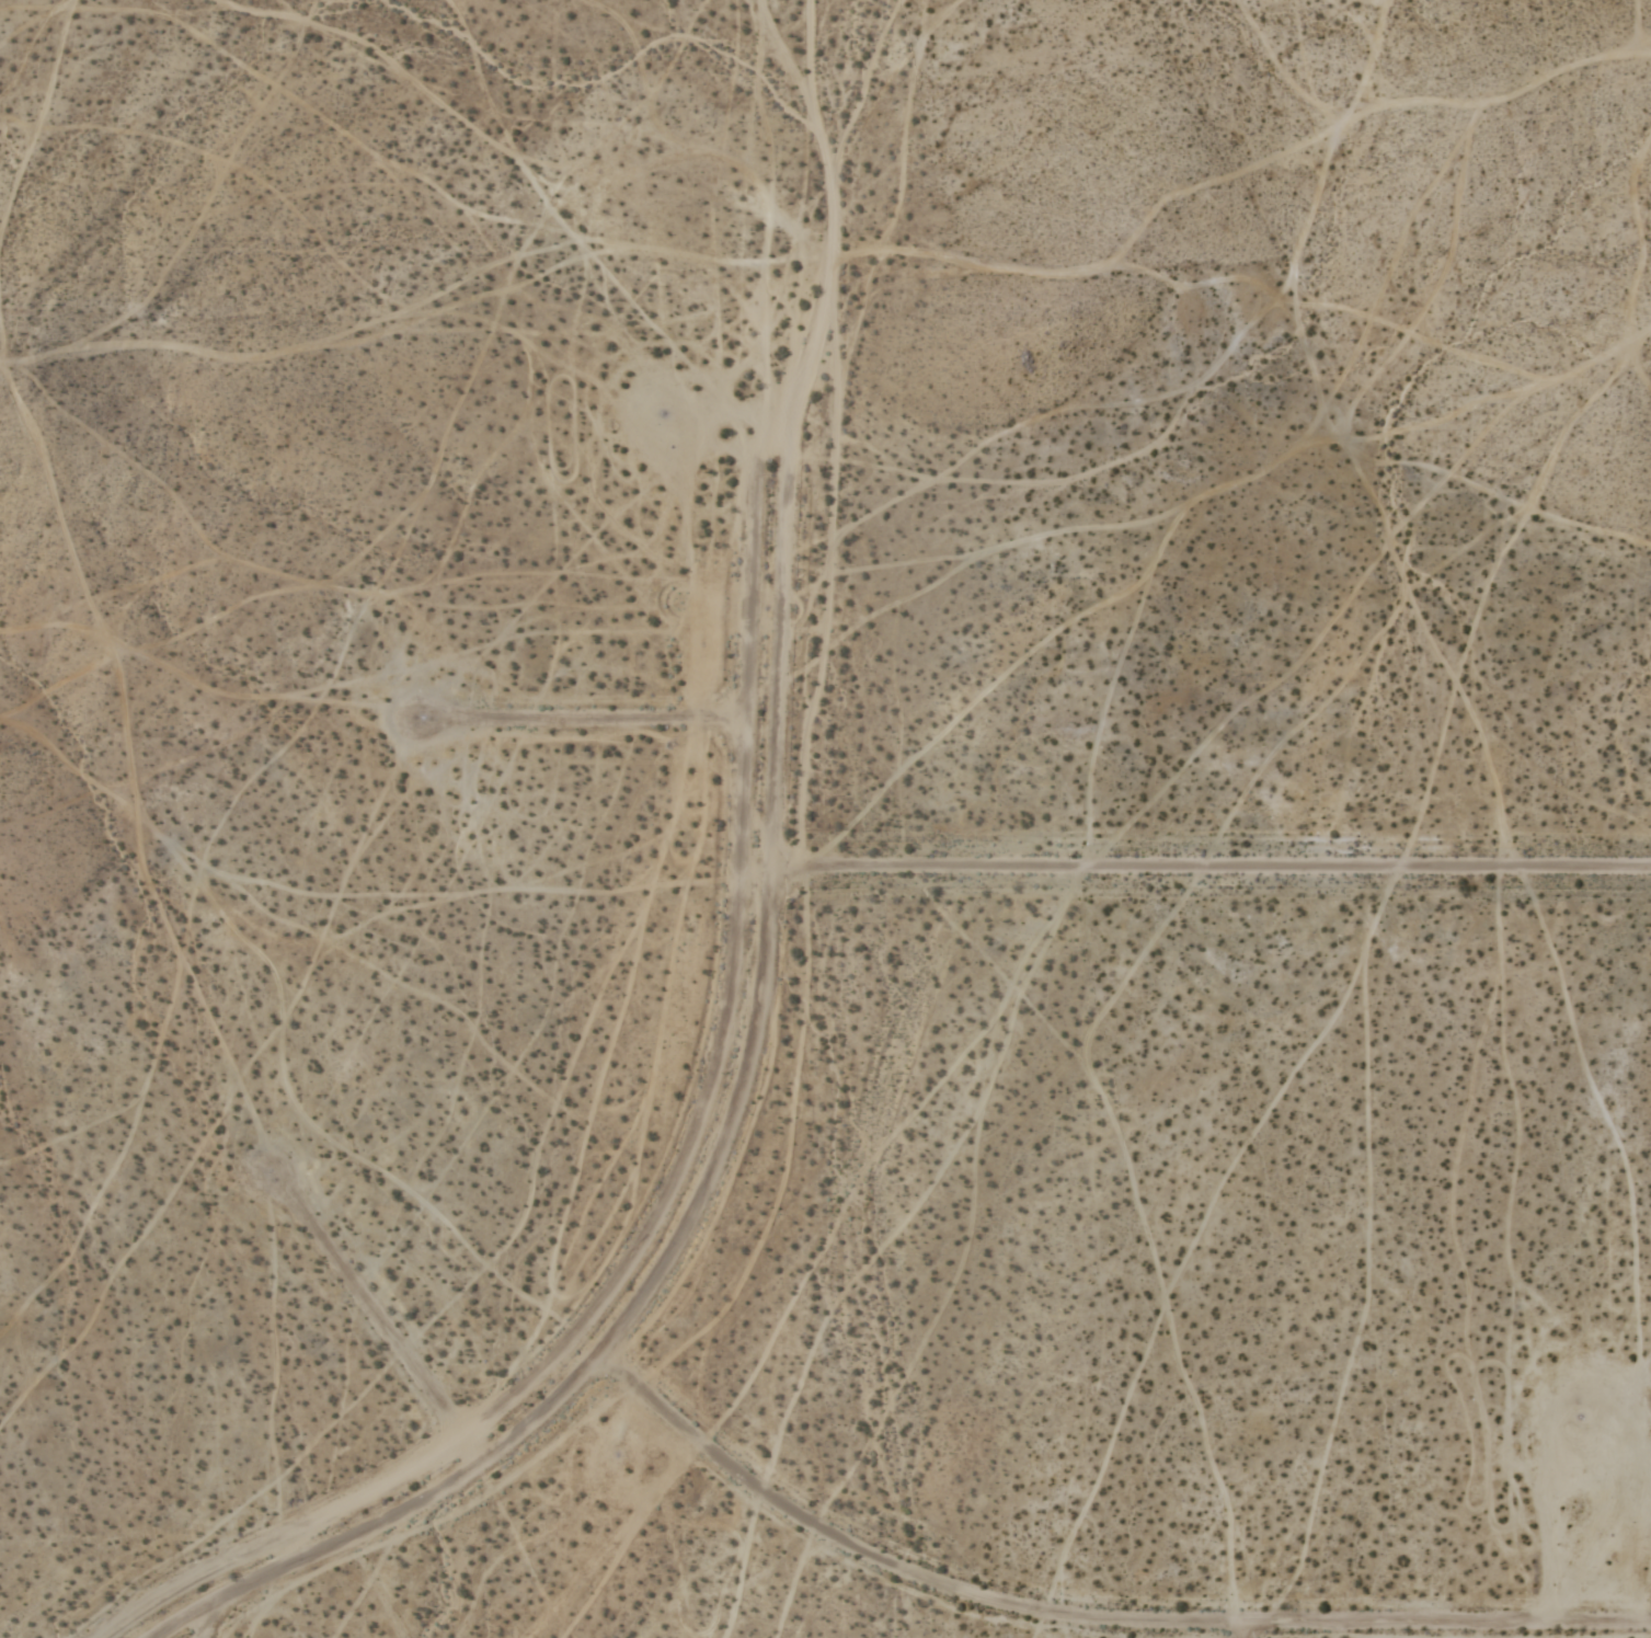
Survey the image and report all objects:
road: (674, 721)
road: (1212, 868)
crop: (1067, 1272)
road: (419, 1377)
road: (1085, 1619)
road: (1245, 1631)

